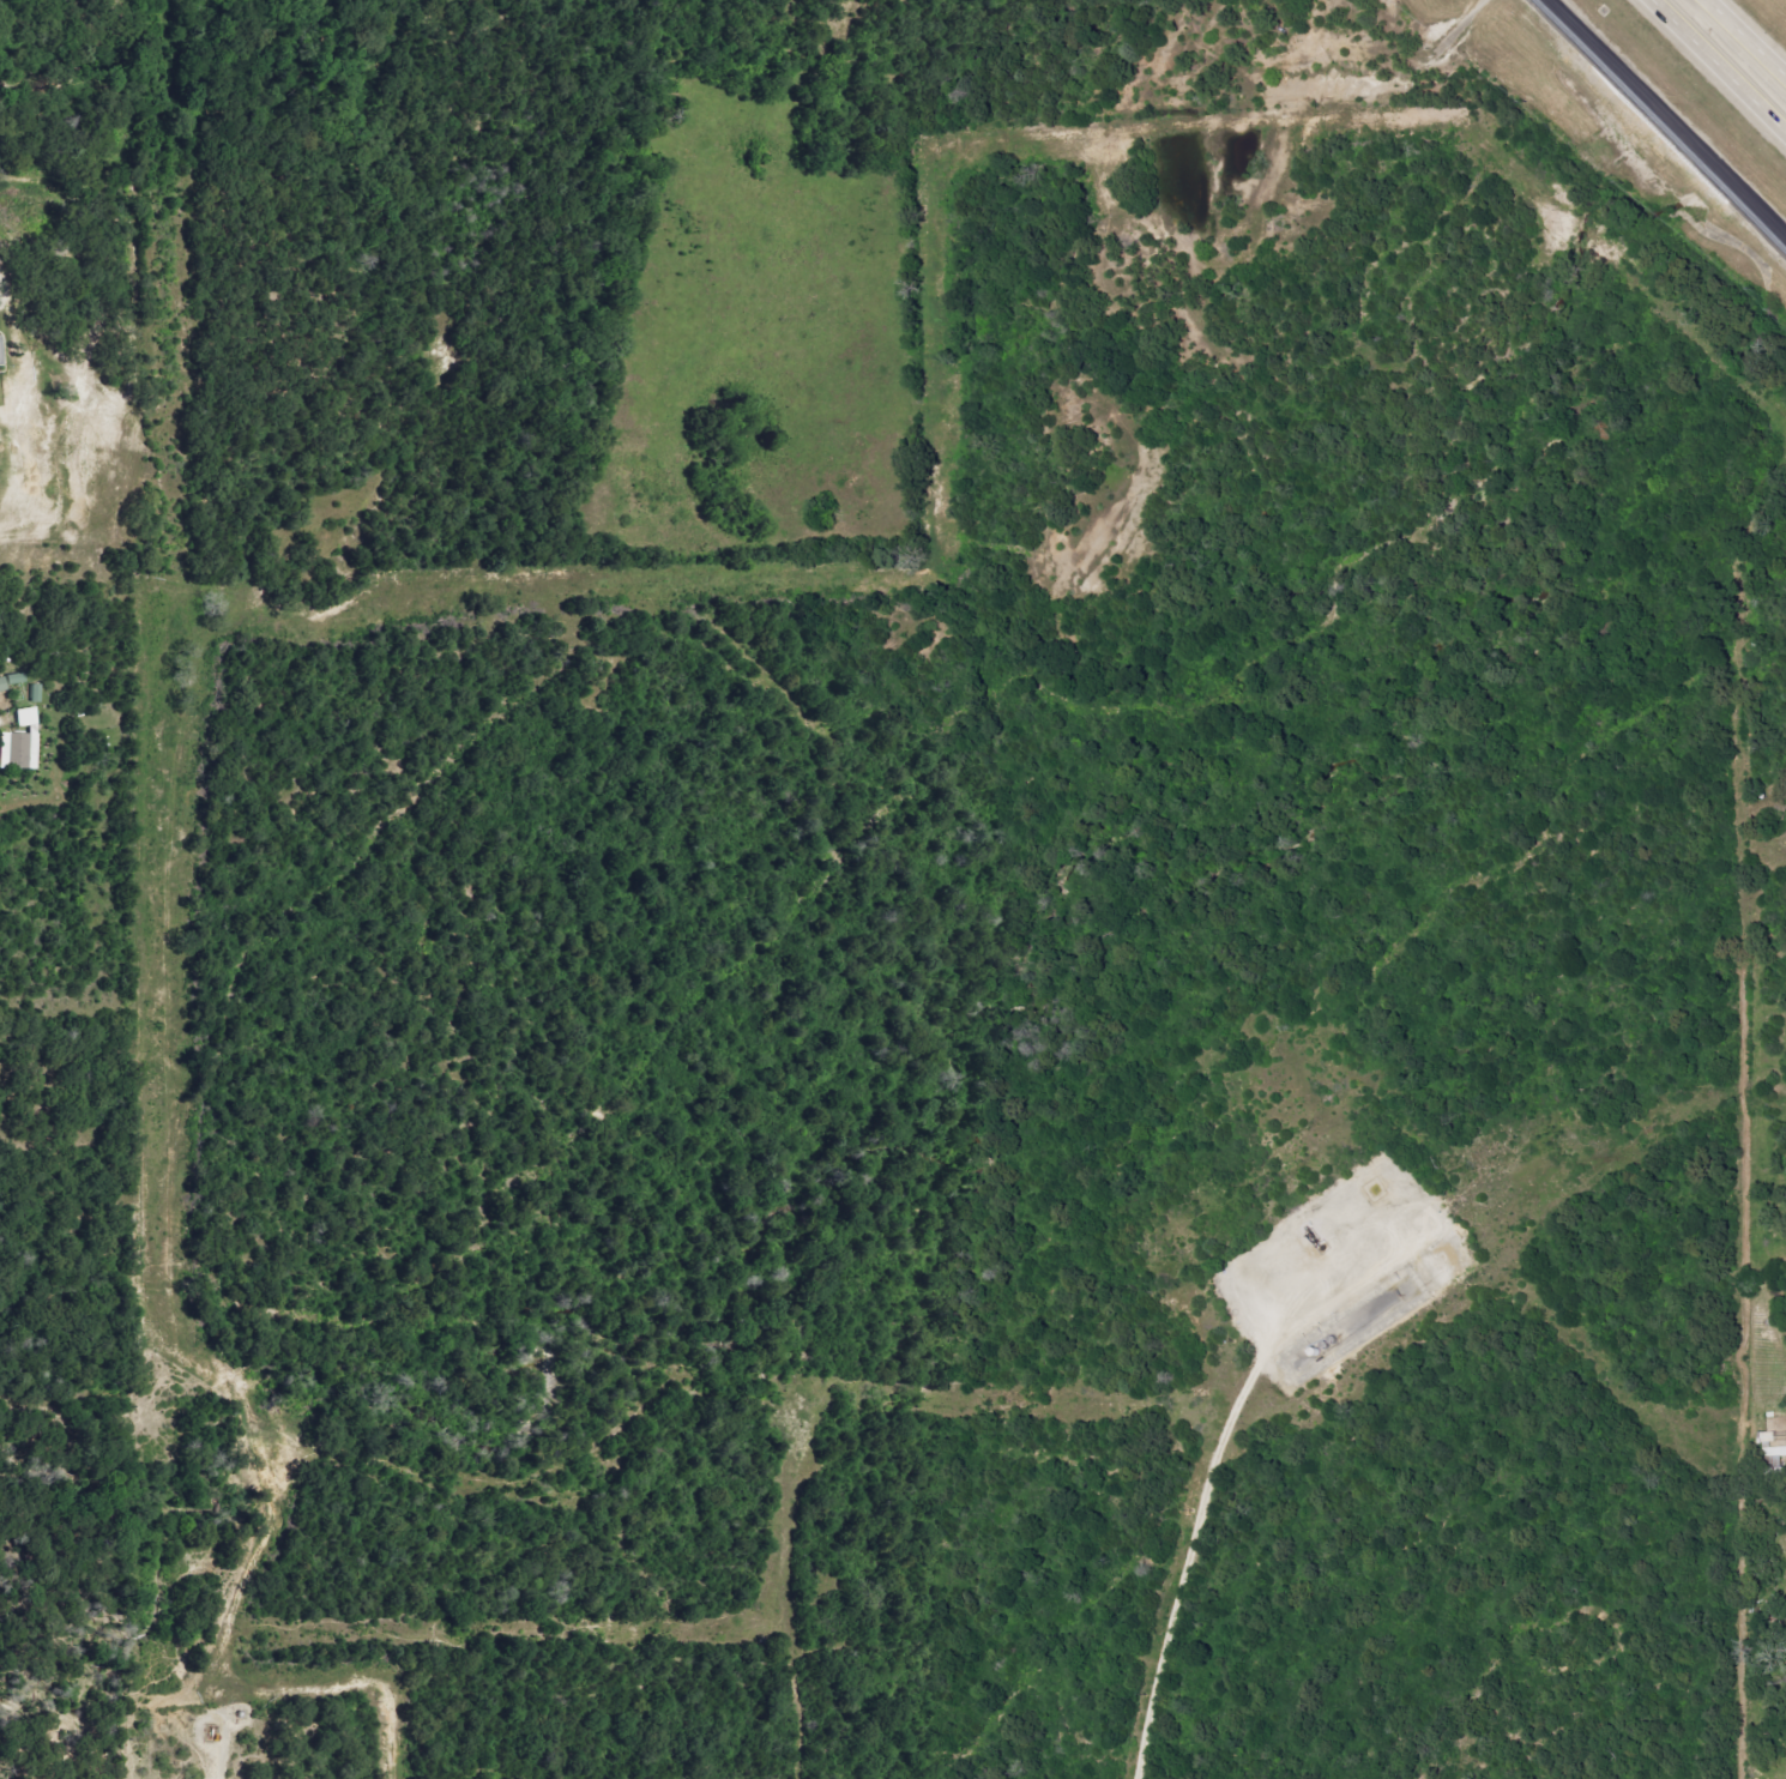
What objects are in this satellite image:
road: (1744, 38)
road: (1718, 67)
road: (1666, 120)
road: (46, 675)
building: (32, 694)
building: (18, 743)

